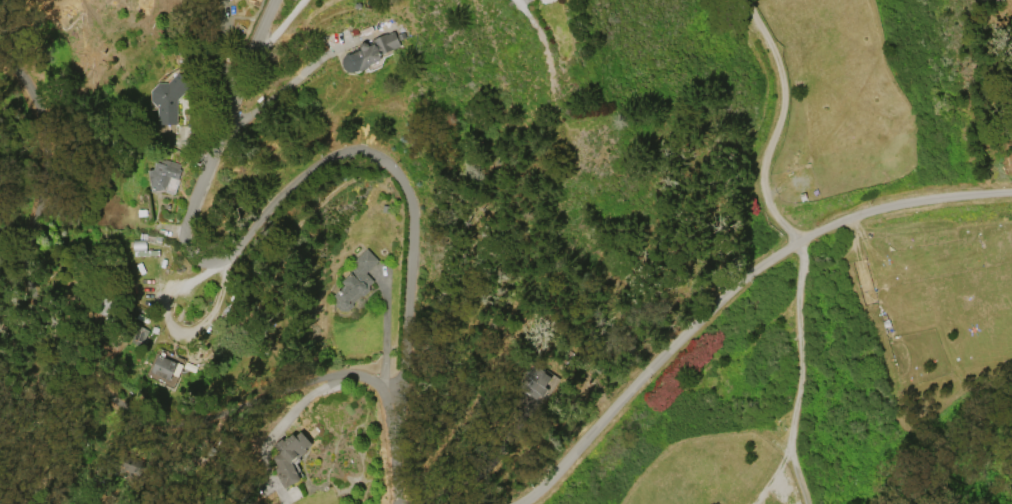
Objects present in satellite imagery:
road: (281, 23)
road: (537, 38)
building: (369, 51)
road: (287, 84)
building: (164, 96)
crop: (836, 99)
road: (776, 123)
road: (309, 168)
building: (158, 175)
building: (139, 246)
building: (354, 281)
road: (731, 289)
crop: (937, 302)
building: (164, 369)
road: (796, 374)
road: (86, 381)
building: (286, 457)
crop: (722, 472)

